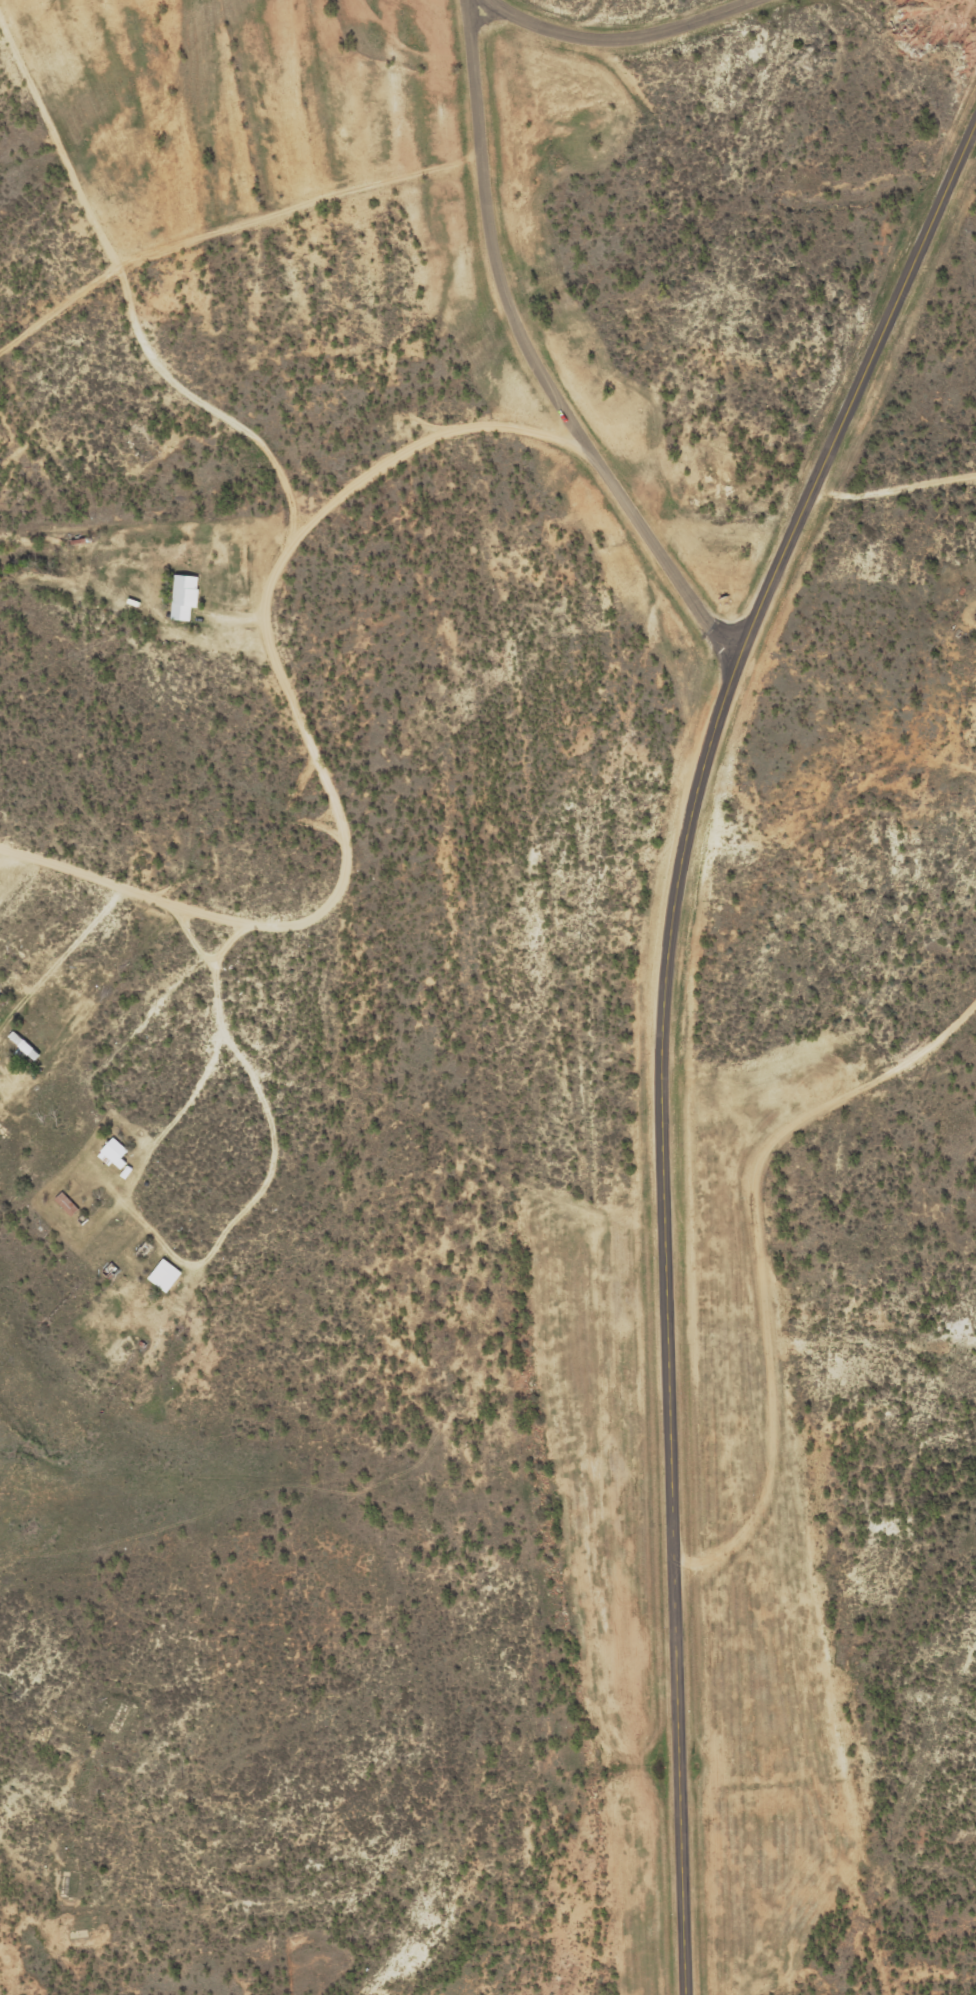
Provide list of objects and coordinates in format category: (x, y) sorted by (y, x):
road: (613, 36)
road: (10, 61)
road: (300, 206)
road: (534, 358)
road: (453, 428)
road: (811, 510)
road: (270, 587)
building: (184, 596)
road: (663, 1022)
road: (243, 1057)
road: (835, 1090)
building: (114, 1154)
building: (66, 1203)
building: (164, 1275)
road: (224, 1818)
road: (973, 1883)
road: (264, 1926)
road: (52, 1985)

